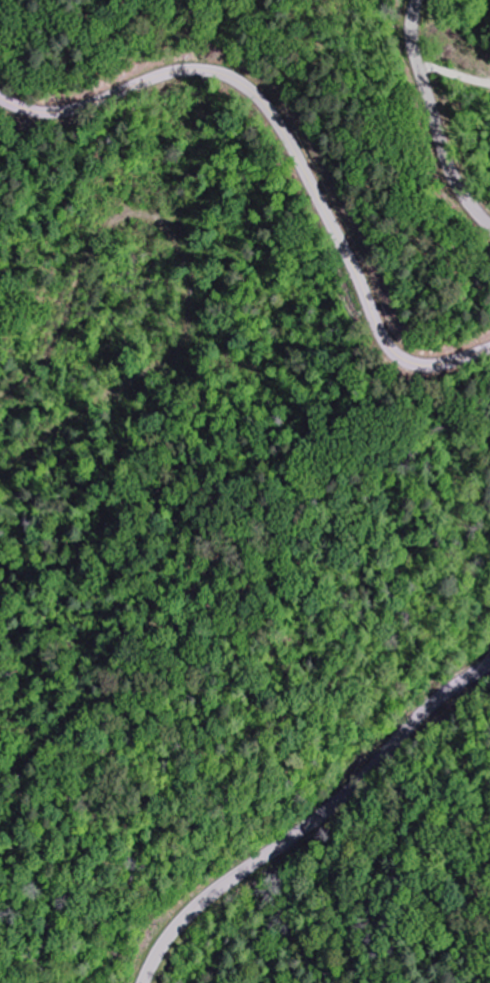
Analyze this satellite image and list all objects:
road: (433, 118)
road: (292, 144)
road: (312, 820)

